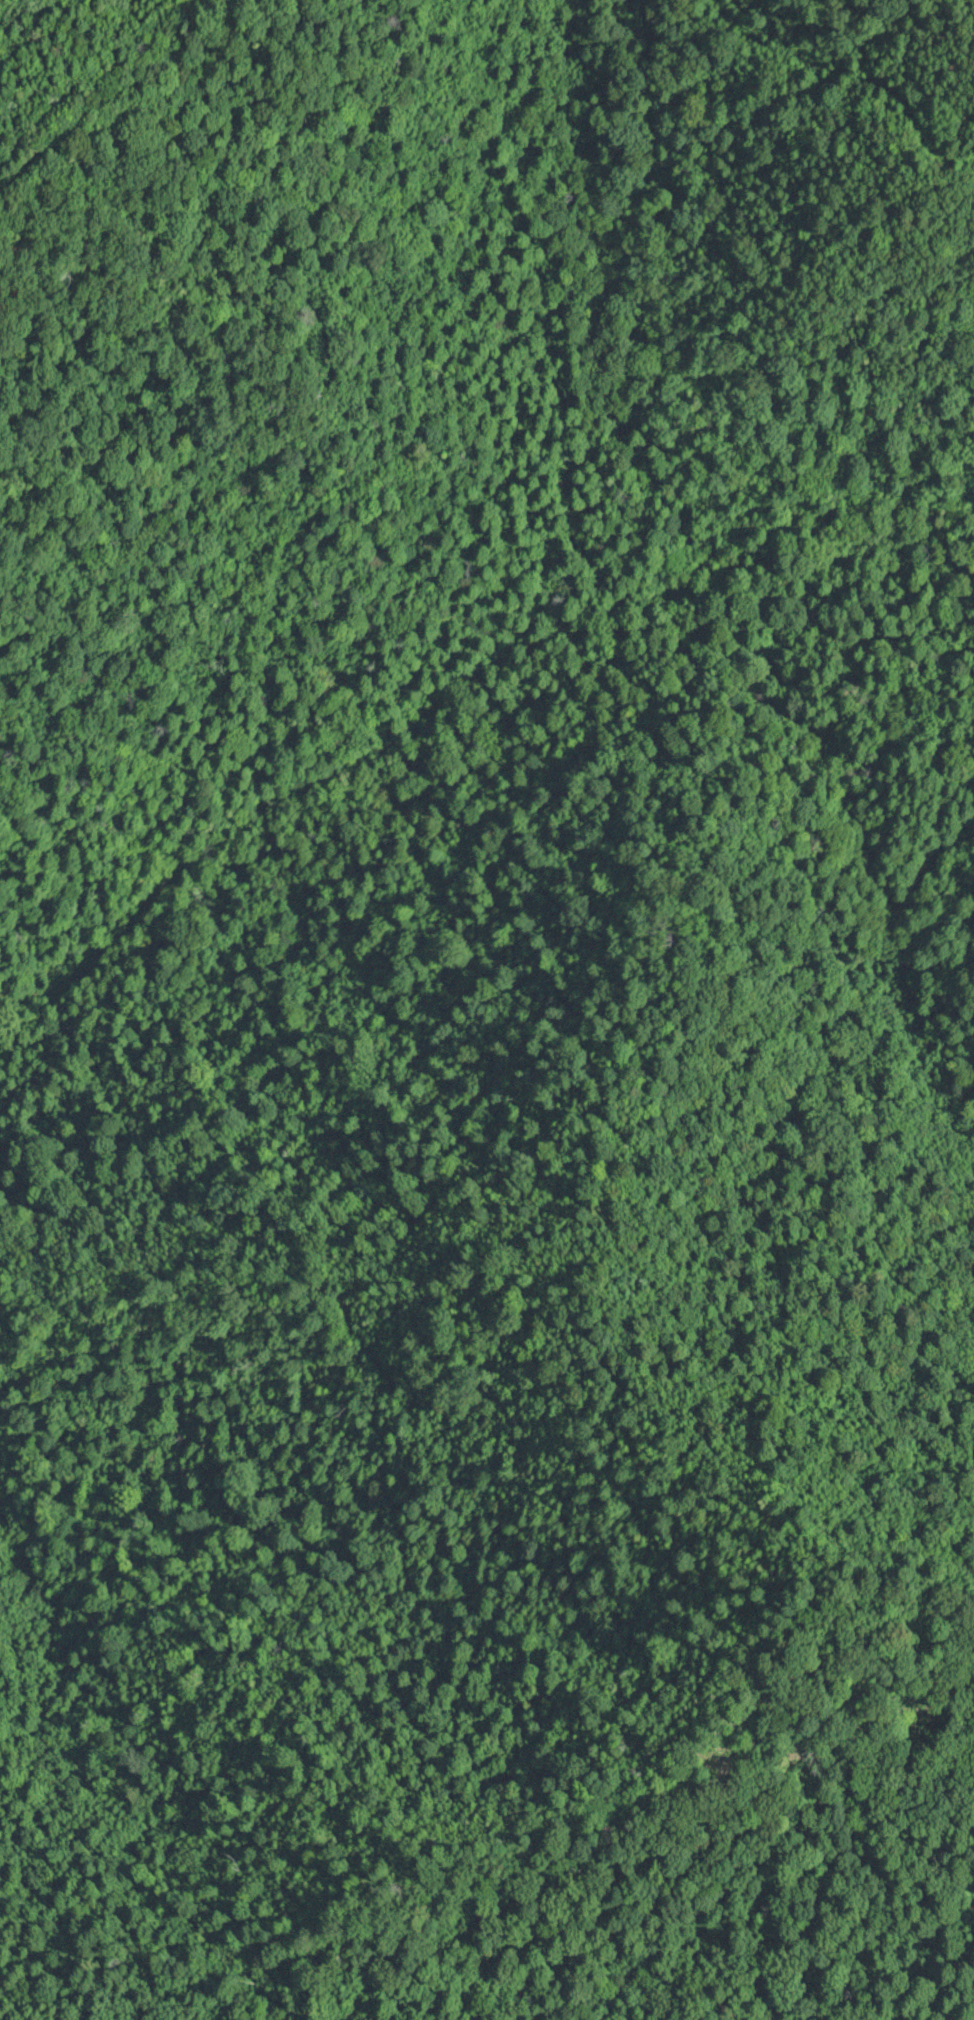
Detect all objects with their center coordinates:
road: (876, 1981)

